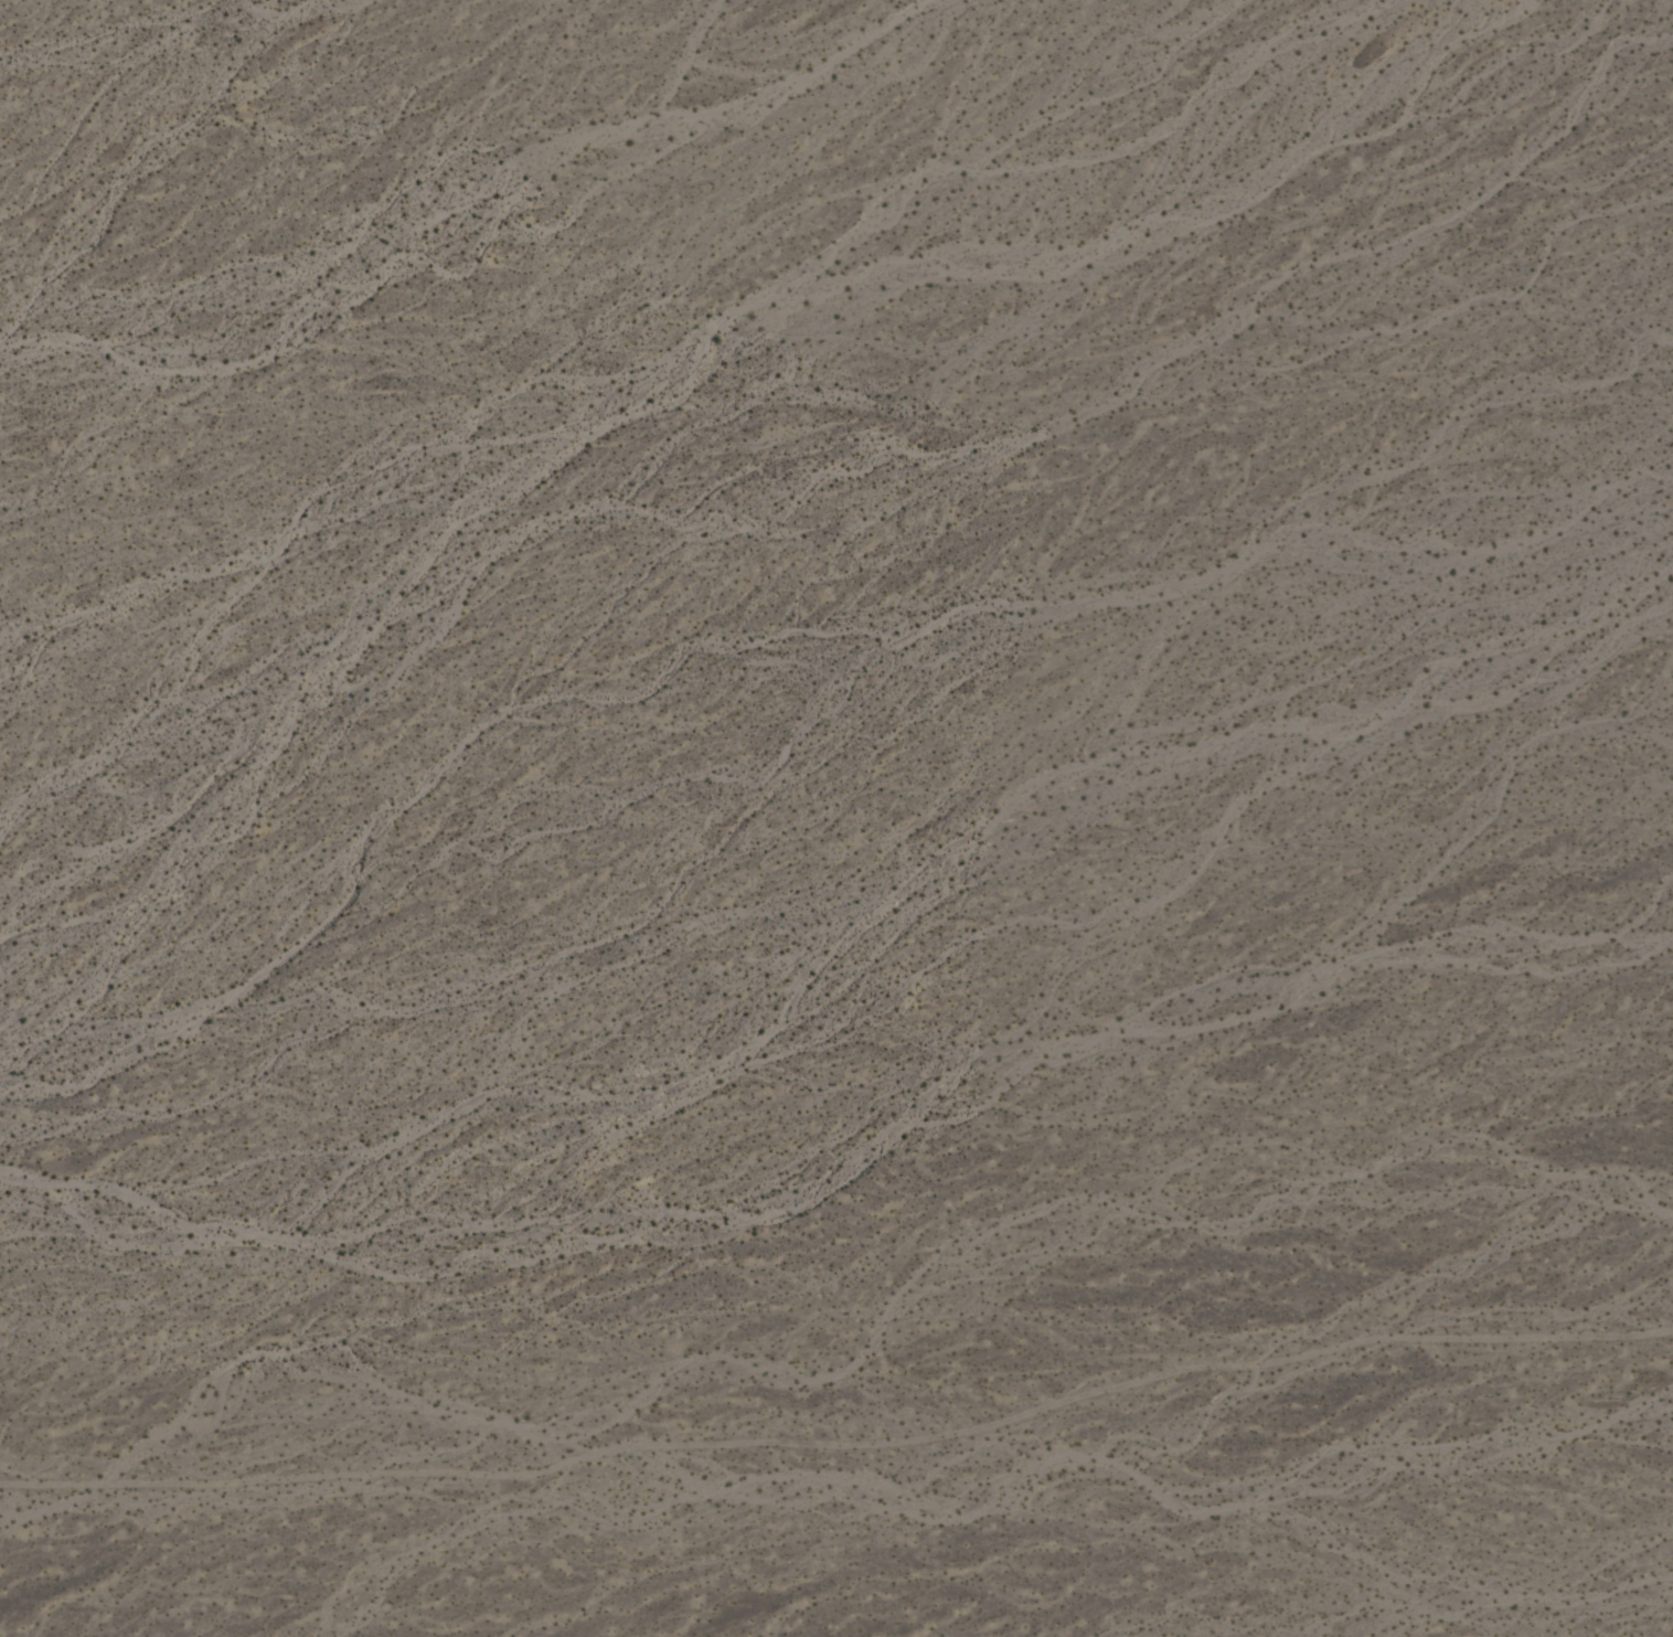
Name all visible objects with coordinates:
road: (841, 1447)

